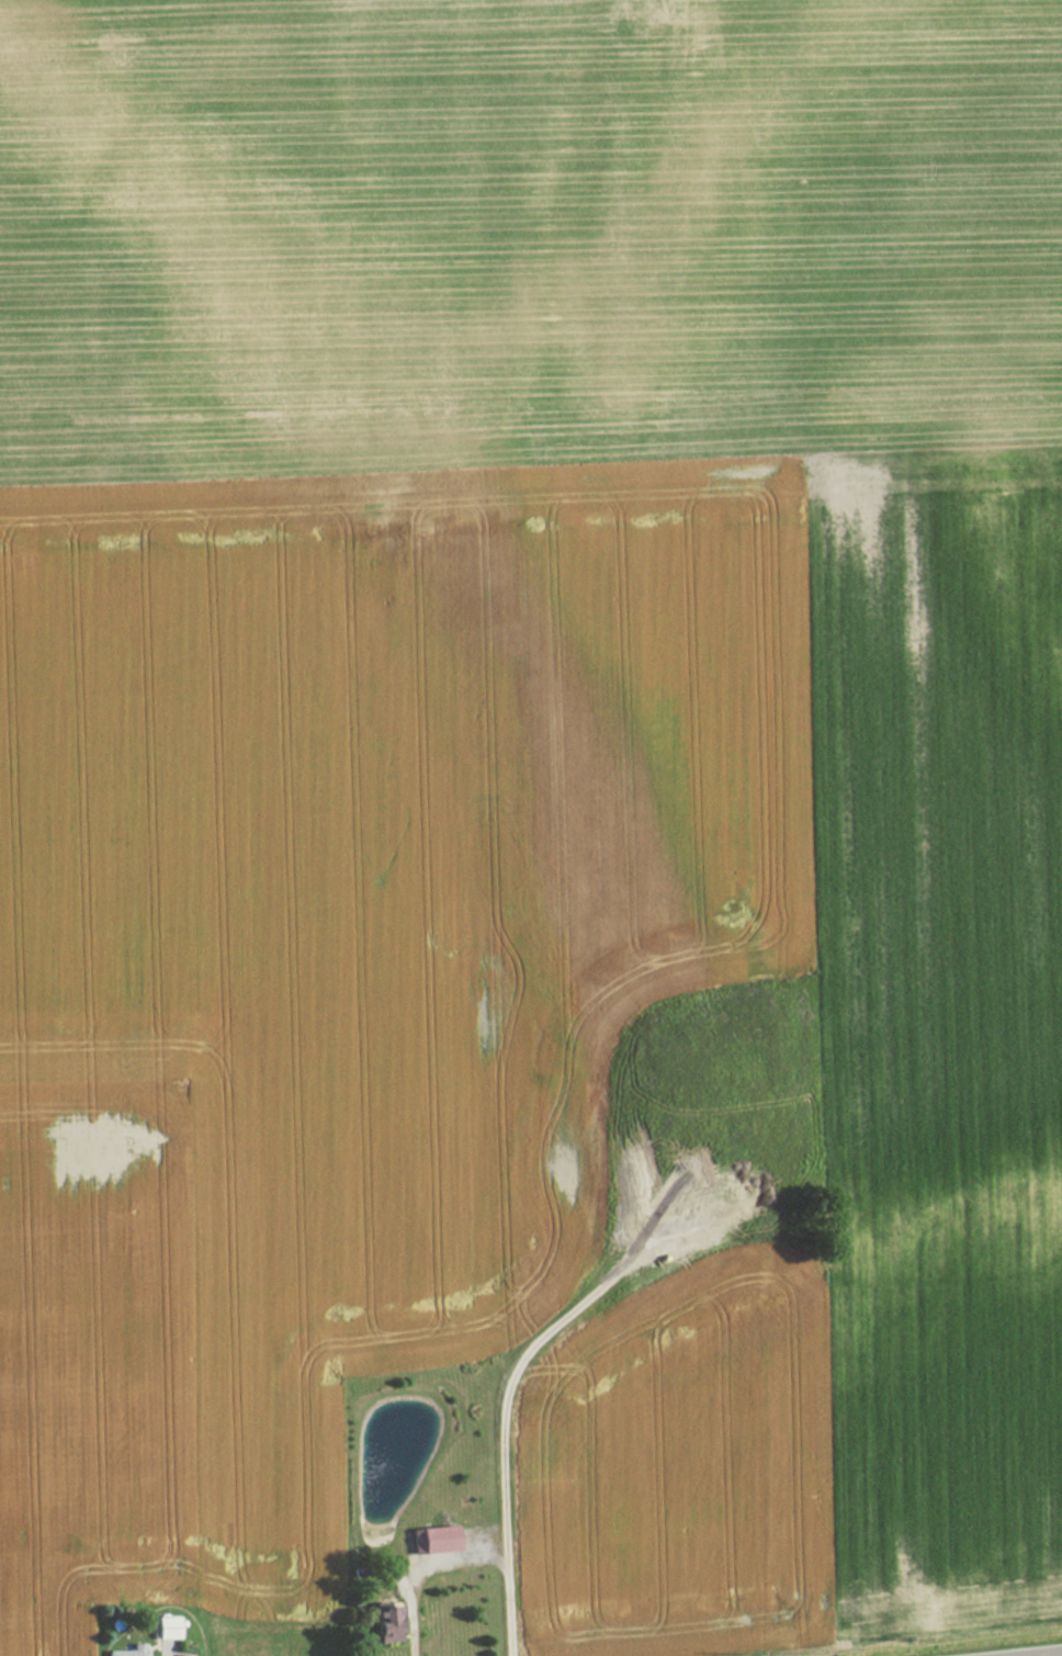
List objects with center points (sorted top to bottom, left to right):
crop: (522, 232)
crop: (568, 983)
crop: (90, 1361)
building: (431, 1539)
road: (122, 1587)
building: (385, 1625)
building: (165, 1627)
building: (127, 1651)
road: (1043, 1654)

